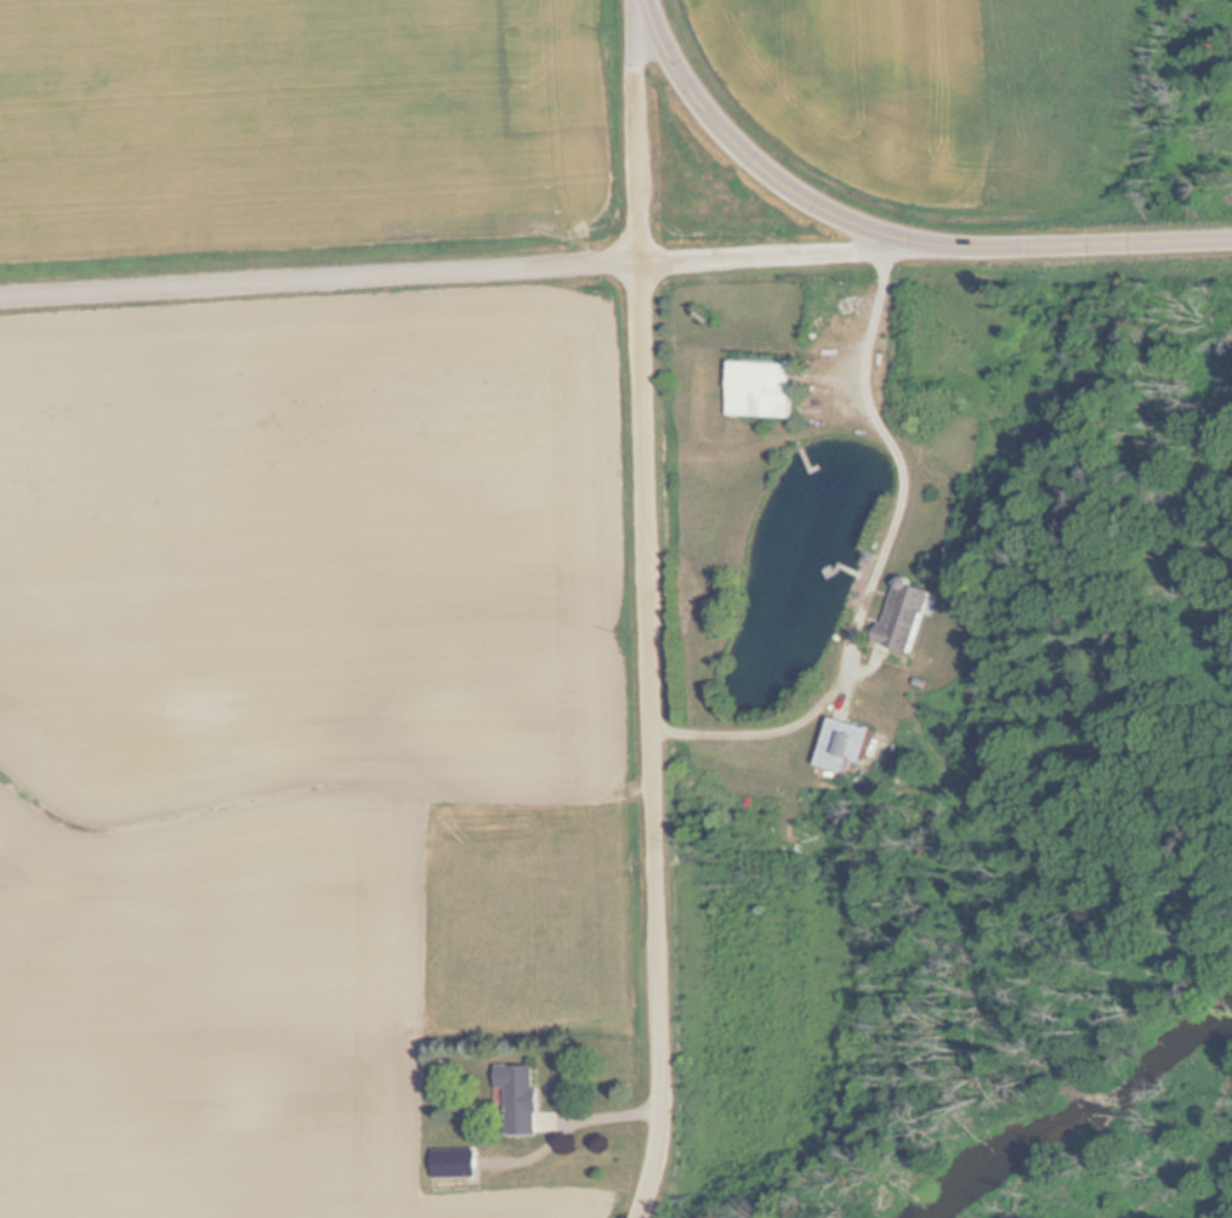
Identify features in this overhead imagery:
road: (646, 129)
road: (891, 228)
road: (801, 253)
road: (324, 276)
building: (753, 389)
building: (897, 617)
road: (664, 740)
building: (829, 746)
building: (515, 1099)
river: (1092, 1120)
building: (449, 1165)

